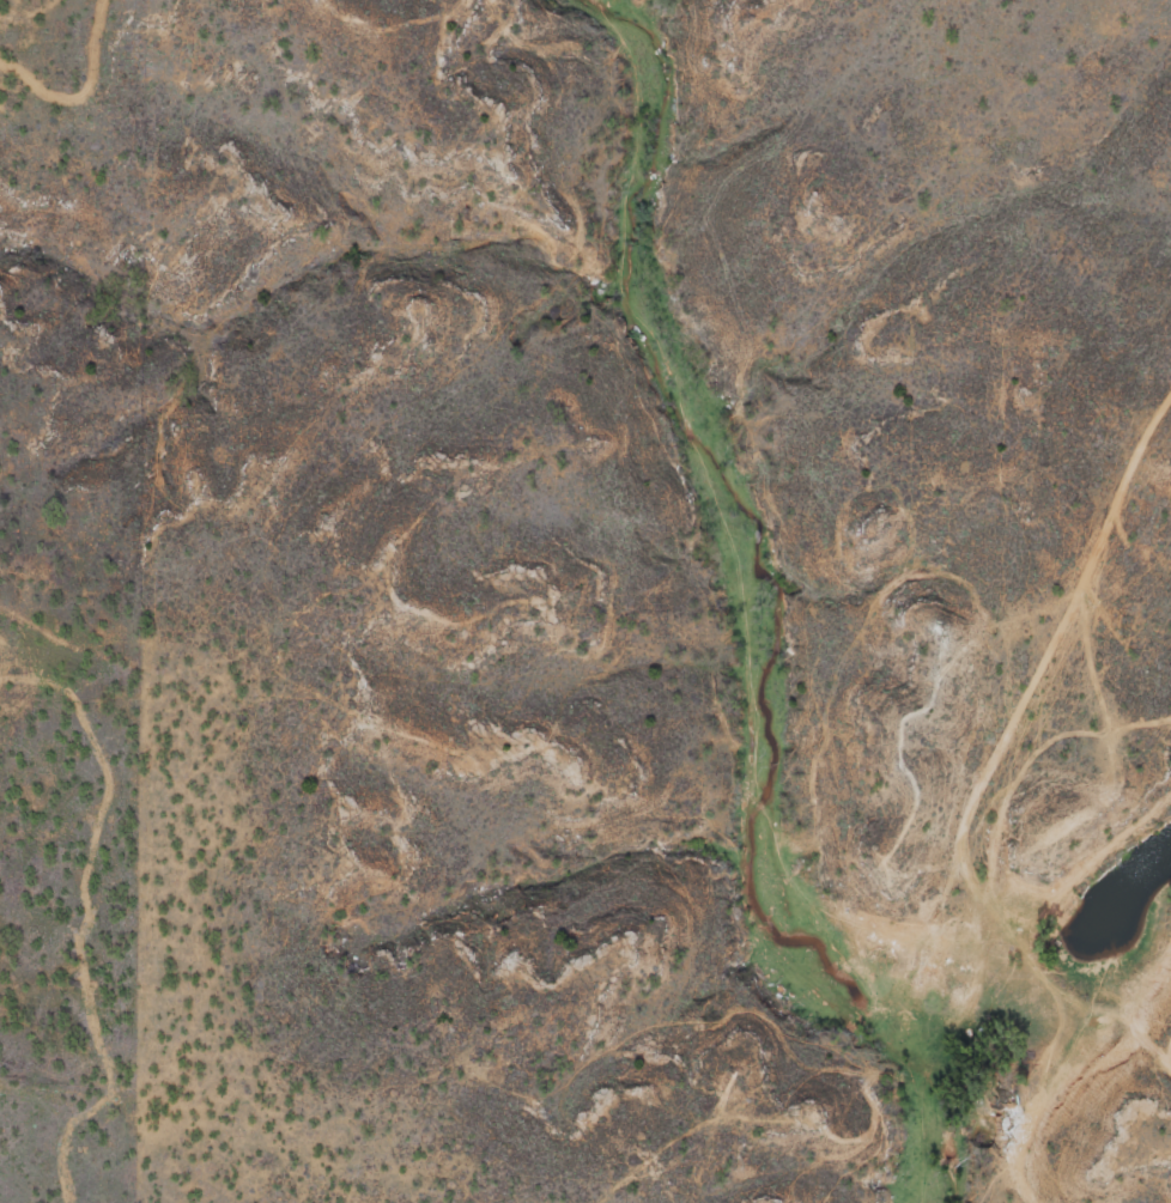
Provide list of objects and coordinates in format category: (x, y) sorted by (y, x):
road: (990, 761)

